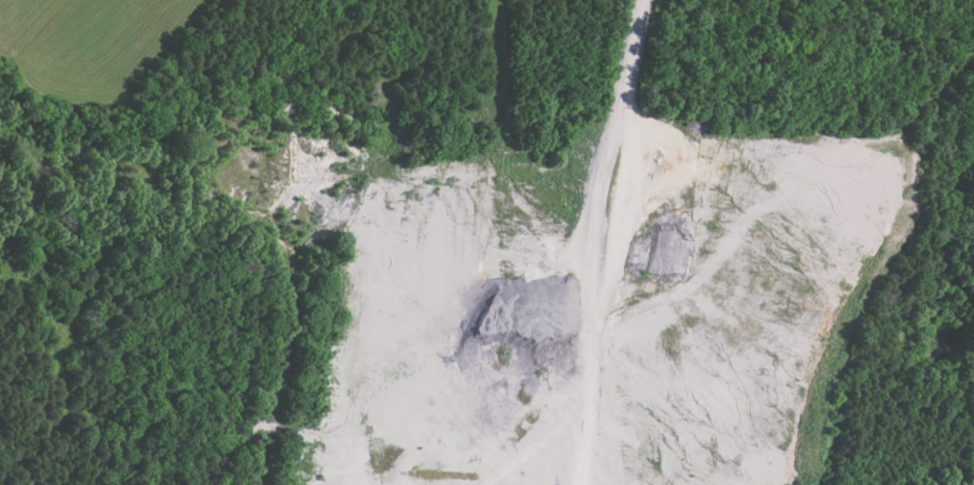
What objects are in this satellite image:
road: (593, 240)
quarry: (557, 293)

